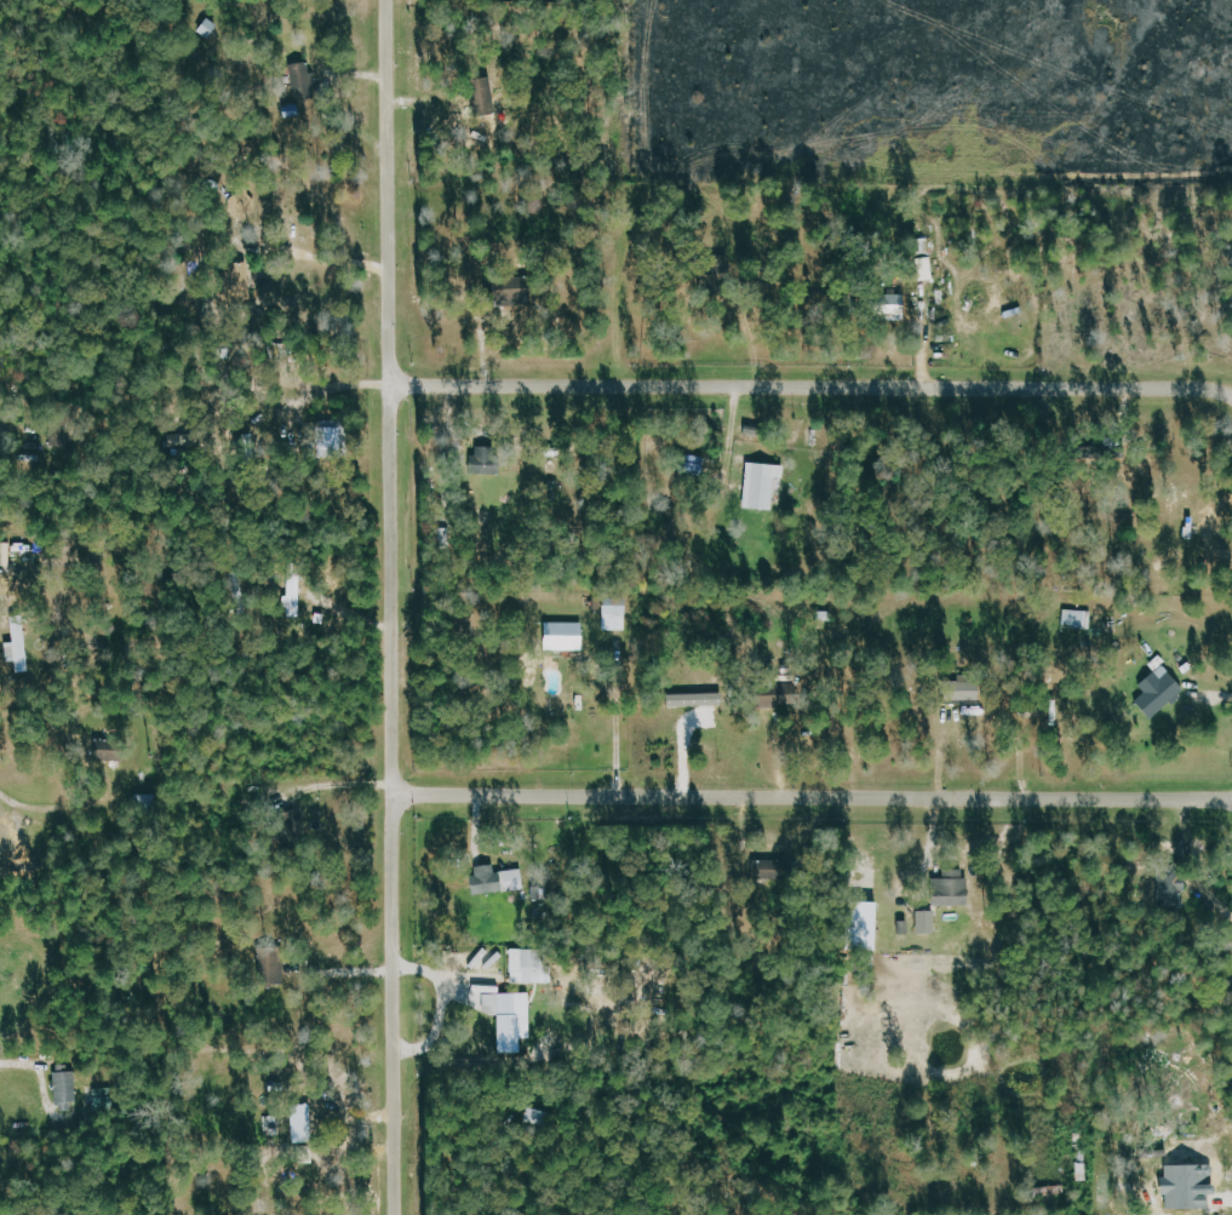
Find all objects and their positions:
building: (243, 205)
road: (319, 256)
building: (242, 281)
building: (904, 305)
road: (810, 386)
building: (331, 440)
building: (1118, 453)
building: (489, 460)
building: (766, 486)
building: (296, 597)
road: (391, 607)
building: (618, 615)
building: (1079, 619)
building: (568, 637)
building: (1162, 692)
road: (615, 727)
building: (111, 751)
road: (338, 785)
road: (813, 798)
road: (40, 808)
building: (773, 871)
building: (499, 879)
building: (957, 884)
building: (1175, 892)
building: (929, 922)
building: (273, 965)
building: (533, 967)
road: (340, 972)
building: (510, 1014)
building: (68, 1085)
building: (305, 1124)

